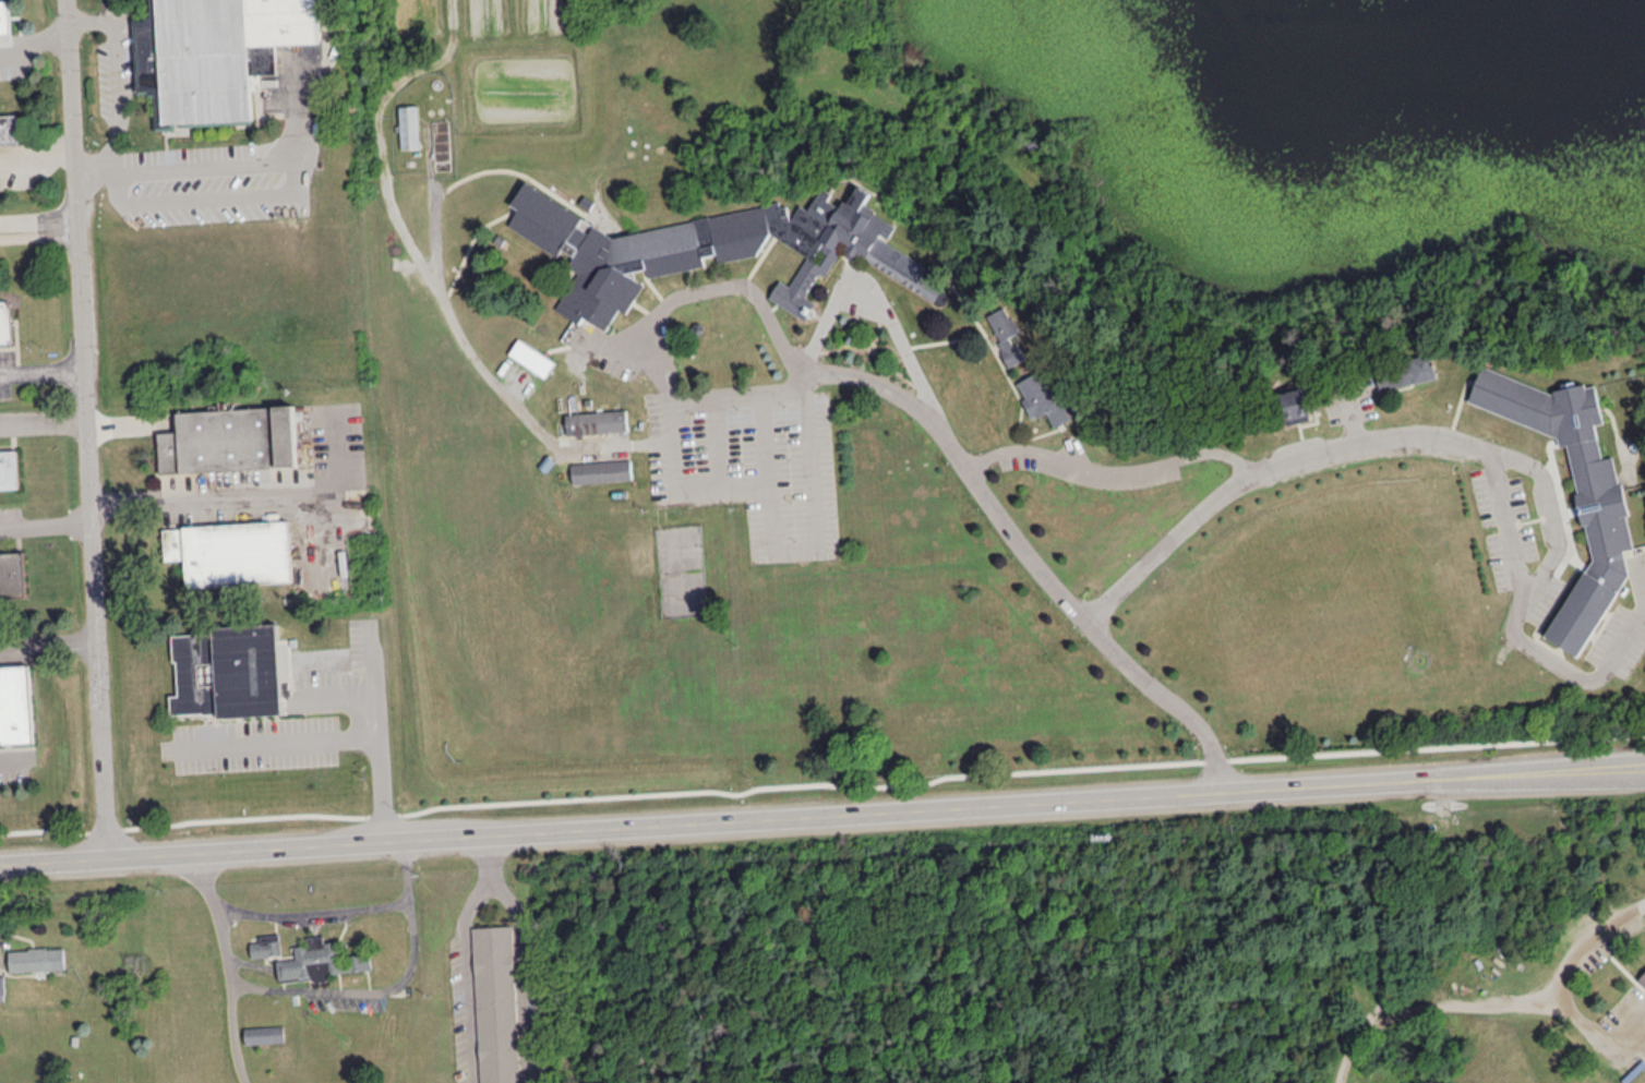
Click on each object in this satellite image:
building: (4, 17)
road: (33, 41)
building: (213, 53)
building: (263, 59)
road: (118, 79)
building: (408, 125)
building: (9, 129)
road: (95, 177)
road: (290, 188)
building: (712, 249)
road: (433, 276)
road: (878, 299)
building: (4, 322)
building: (1007, 334)
building: (532, 357)
road: (41, 369)
building: (1407, 373)
road: (874, 378)
building: (1042, 396)
building: (1295, 405)
building: (597, 421)
road: (43, 426)
road: (86, 430)
building: (229, 438)
road: (1366, 441)
road: (333, 453)
building: (9, 469)
building: (601, 470)
road: (1108, 472)
road: (213, 498)
building: (1601, 503)
road: (45, 524)
road: (770, 527)
road: (311, 537)
building: (230, 552)
building: (12, 575)
road: (48, 638)
building: (227, 671)
road: (345, 695)
building: (14, 703)
road: (380, 734)
road: (280, 742)
road: (10, 757)
road: (822, 818)
road: (493, 861)
road: (319, 912)
parking lot: (1609, 940)
building: (266, 944)
park: (1116, 949)
building: (36, 959)
building: (321, 960)
road: (1619, 964)
road: (233, 966)
building: (1642, 976)
road: (465, 977)
road: (524, 978)
building: (1, 987)
road: (393, 988)
road: (1498, 1002)
building: (494, 1003)
road: (1641, 1030)
parking lot: (1622, 1031)
building: (264, 1033)
road: (1601, 1037)
road: (1598, 1067)

